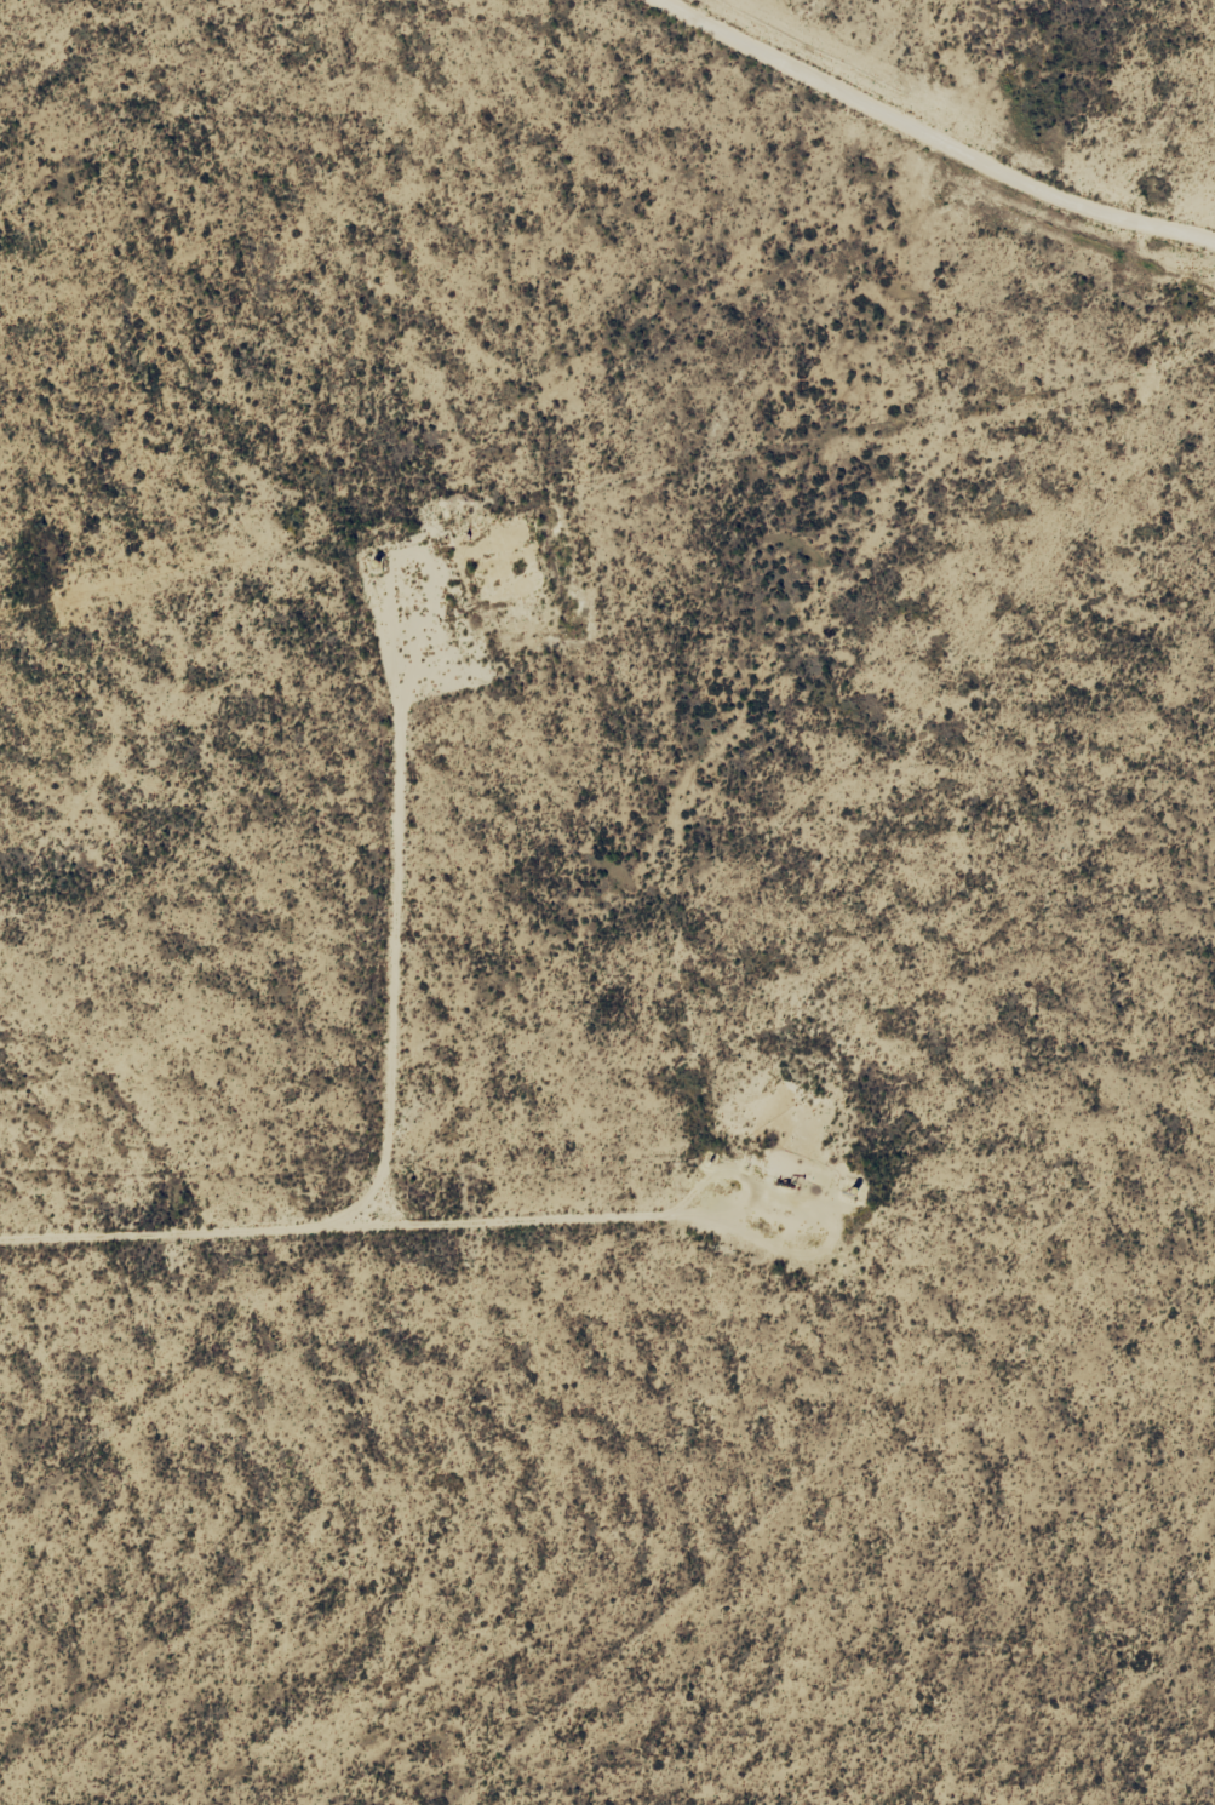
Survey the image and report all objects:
road: (883, 142)
road: (626, 1001)

